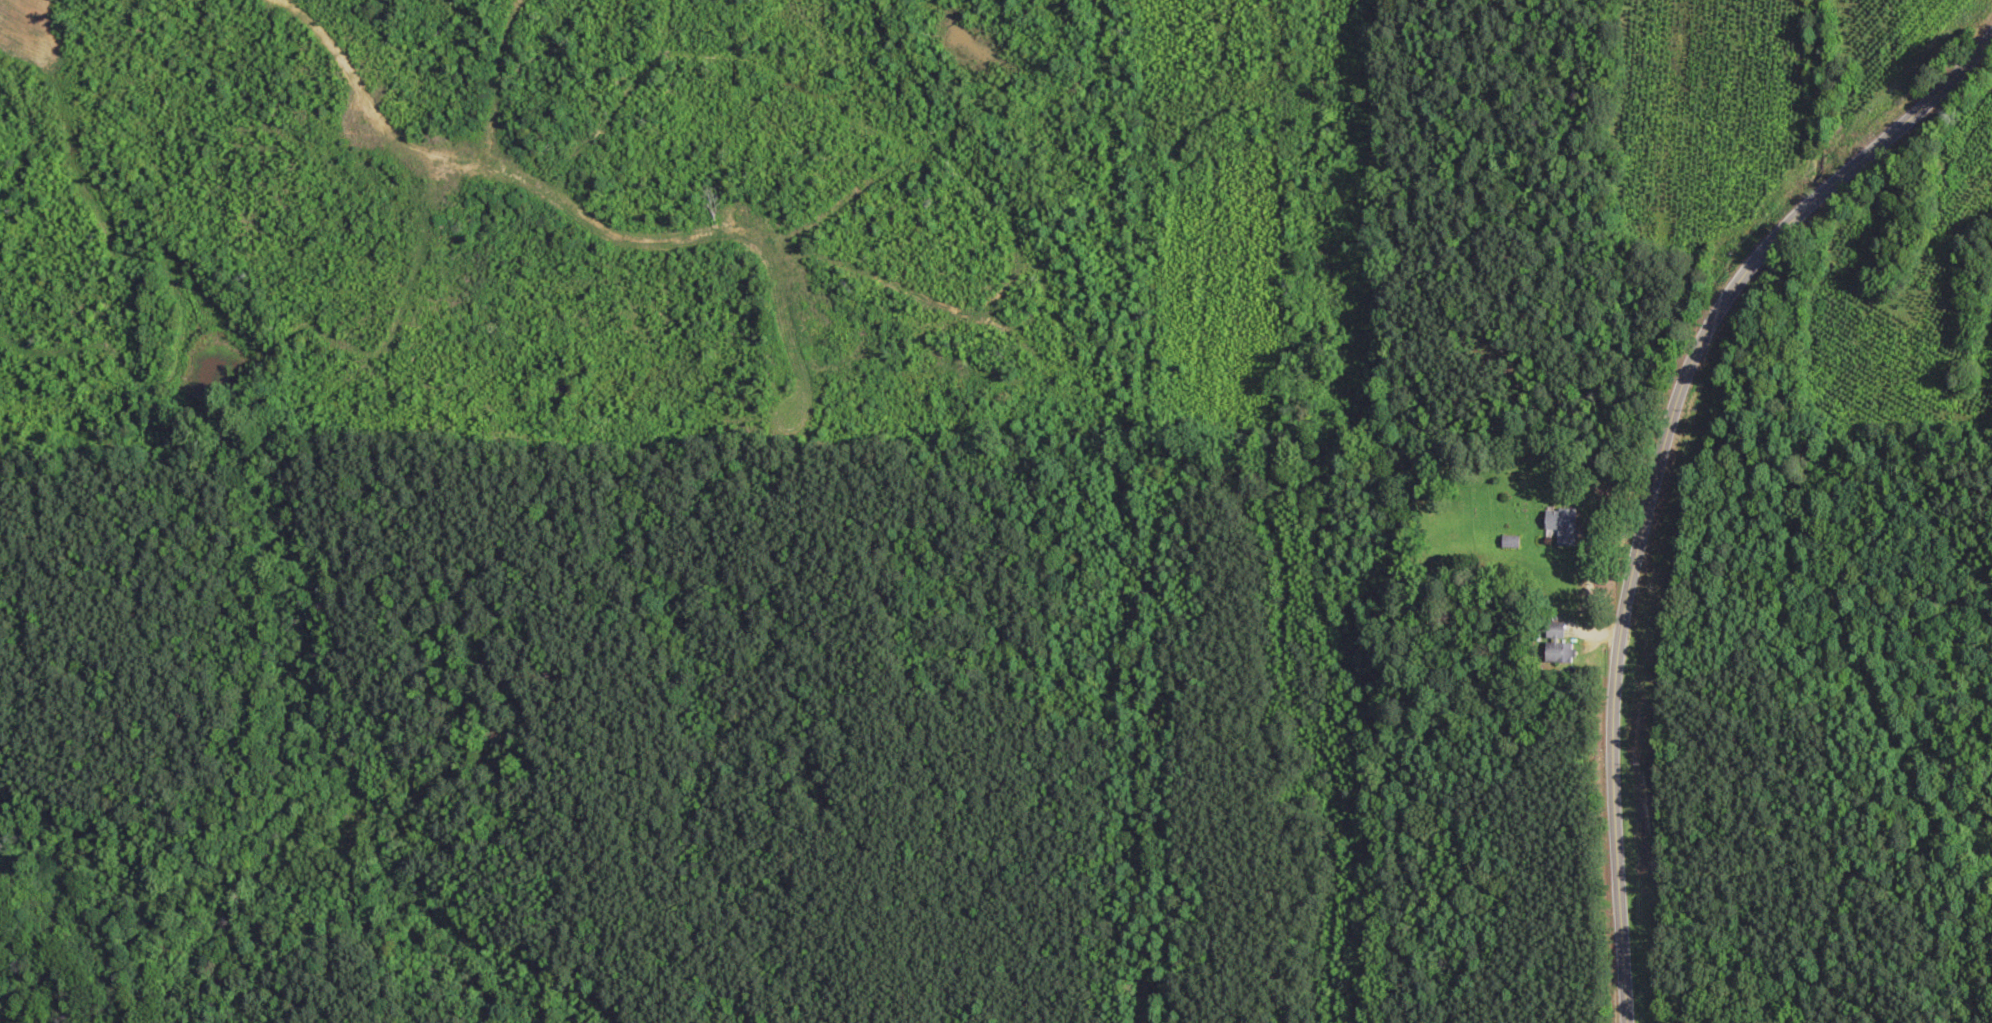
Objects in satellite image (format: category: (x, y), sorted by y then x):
road: (1673, 476)
building: (1561, 526)
building: (1556, 645)

